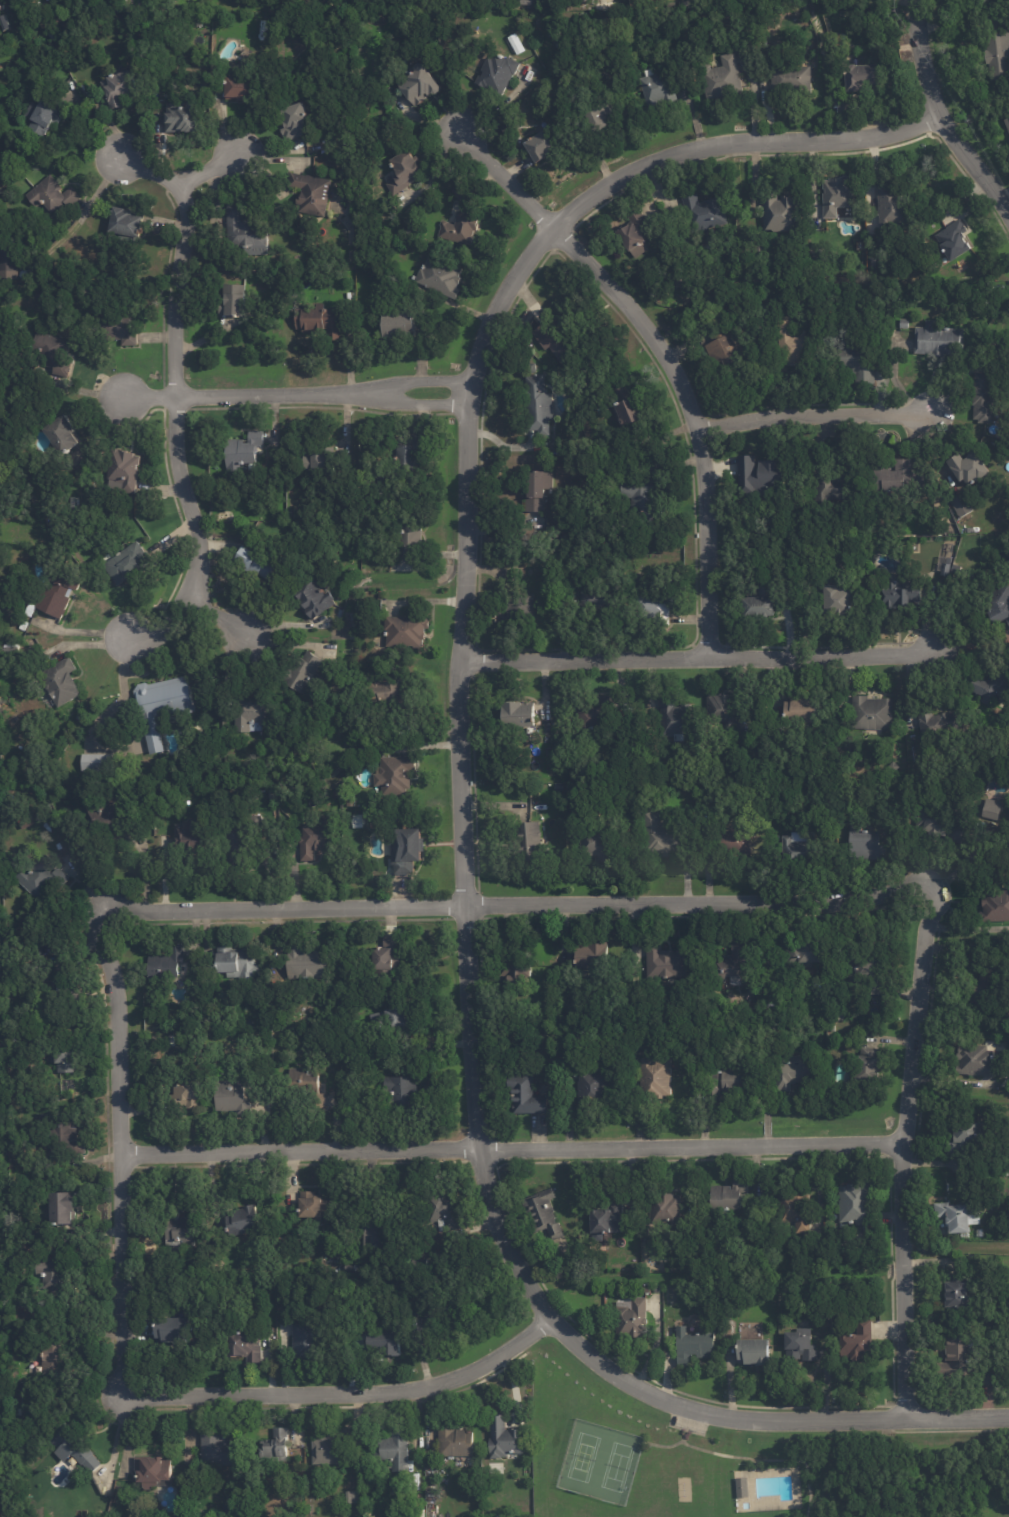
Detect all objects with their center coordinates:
building: (527, 1)
building: (1, 4)
building: (685, 4)
building: (1004, 17)
building: (3, 21)
building: (53, 35)
building: (517, 42)
building: (997, 55)
building: (500, 73)
building: (864, 75)
building: (723, 78)
building: (794, 79)
building: (422, 84)
building: (660, 86)
building: (123, 88)
building: (245, 88)
building: (606, 113)
road: (941, 114)
building: (46, 115)
building: (183, 117)
building: (1007, 120)
building: (298, 121)
building: (546, 145)
building: (403, 172)
road: (182, 177)
building: (313, 192)
building: (465, 193)
building: (838, 193)
building: (54, 194)
building: (897, 209)
building: (708, 210)
building: (782, 210)
building: (128, 221)
building: (462, 227)
building: (247, 232)
building: (639, 232)
building: (953, 238)
building: (874, 261)
building: (10, 264)
building: (442, 276)
building: (654, 289)
building: (352, 296)
building: (235, 301)
building: (322, 320)
building: (905, 321)
building: (400, 325)
building: (125, 327)
building: (941, 337)
building: (560, 340)
building: (794, 341)
building: (725, 345)
building: (55, 351)
road: (665, 353)
building: (985, 359)
building: (862, 360)
building: (533, 366)
road: (296, 391)
building: (986, 397)
road: (175, 402)
building: (538, 404)
building: (635, 408)
road: (823, 411)
building: (64, 432)
building: (244, 449)
building: (415, 451)
building: (324, 460)
building: (972, 465)
building: (125, 469)
building: (760, 472)
building: (902, 475)
building: (349, 476)
building: (538, 489)
building: (827, 493)
building: (649, 498)
building: (962, 504)
building: (291, 512)
building: (562, 529)
building: (411, 535)
building: (128, 561)
building: (257, 561)
building: (357, 566)
building: (905, 590)
building: (59, 593)
building: (839, 597)
building: (316, 598)
building: (765, 598)
building: (598, 599)
building: (513, 604)
building: (1003, 605)
building: (30, 608)
building: (655, 614)
building: (25, 624)
road: (191, 624)
building: (405, 629)
road: (822, 651)
road: (584, 654)
building: (306, 671)
building: (63, 680)
building: (992, 686)
building: (391, 692)
building: (722, 703)
building: (164, 704)
building: (806, 708)
building: (254, 710)
building: (600, 712)
building: (874, 712)
building: (522, 713)
building: (80, 716)
building: (275, 716)
building: (677, 716)
building: (939, 722)
building: (655, 734)
building: (99, 762)
building: (895, 766)
building: (397, 773)
building: (572, 786)
building: (561, 787)
road: (461, 803)
building: (994, 808)
building: (359, 820)
building: (950, 823)
building: (106, 824)
building: (665, 832)
building: (242, 835)
building: (318, 836)
building: (191, 839)
building: (741, 840)
building: (535, 841)
building: (871, 843)
building: (599, 844)
building: (409, 848)
building: (804, 852)
building: (37, 877)
road: (499, 900)
building: (996, 906)
road: (967, 927)
building: (25, 939)
building: (1006, 943)
building: (9, 949)
building: (806, 951)
building: (595, 955)
building: (386, 958)
building: (309, 961)
building: (668, 961)
building: (735, 961)
building: (168, 962)
building: (240, 963)
building: (0, 967)
building: (872, 969)
building: (519, 973)
building: (992, 986)
building: (401, 1017)
building: (833, 1026)
building: (69, 1055)
building: (975, 1060)
building: (867, 1065)
building: (794, 1072)
building: (655, 1075)
building: (725, 1078)
building: (307, 1084)
building: (594, 1089)
building: (405, 1092)
building: (188, 1094)
building: (526, 1095)
building: (233, 1099)
building: (64, 1133)
building: (963, 1138)
road: (509, 1143)
road: (901, 1145)
road: (118, 1155)
building: (728, 1194)
building: (856, 1202)
building: (61, 1207)
building: (316, 1207)
building: (443, 1209)
building: (666, 1209)
building: (796, 1209)
building: (543, 1214)
building: (954, 1215)
building: (975, 1215)
building: (244, 1219)
building: (604, 1225)
building: (180, 1229)
building: (374, 1233)
building: (965, 1235)
building: (637, 1265)
building: (350, 1266)
building: (51, 1273)
building: (656, 1288)
building: (957, 1293)
building: (671, 1295)
building: (27, 1312)
building: (452, 1315)
building: (633, 1319)
building: (170, 1326)
building: (384, 1341)
building: (857, 1341)
building: (305, 1342)
building: (245, 1345)
building: (694, 1345)
building: (801, 1345)
building: (753, 1351)
building: (56, 1353)
building: (962, 1359)
building: (988, 1377)
road: (349, 1388)
building: (19, 1411)
building: (505, 1438)
building: (455, 1440)
building: (73, 1446)
building: (277, 1446)
building: (218, 1448)
building: (360, 1448)
building: (330, 1449)
building: (394, 1449)
building: (152, 1471)
building: (743, 1486)
building: (352, 1496)
building: (230, 1510)

